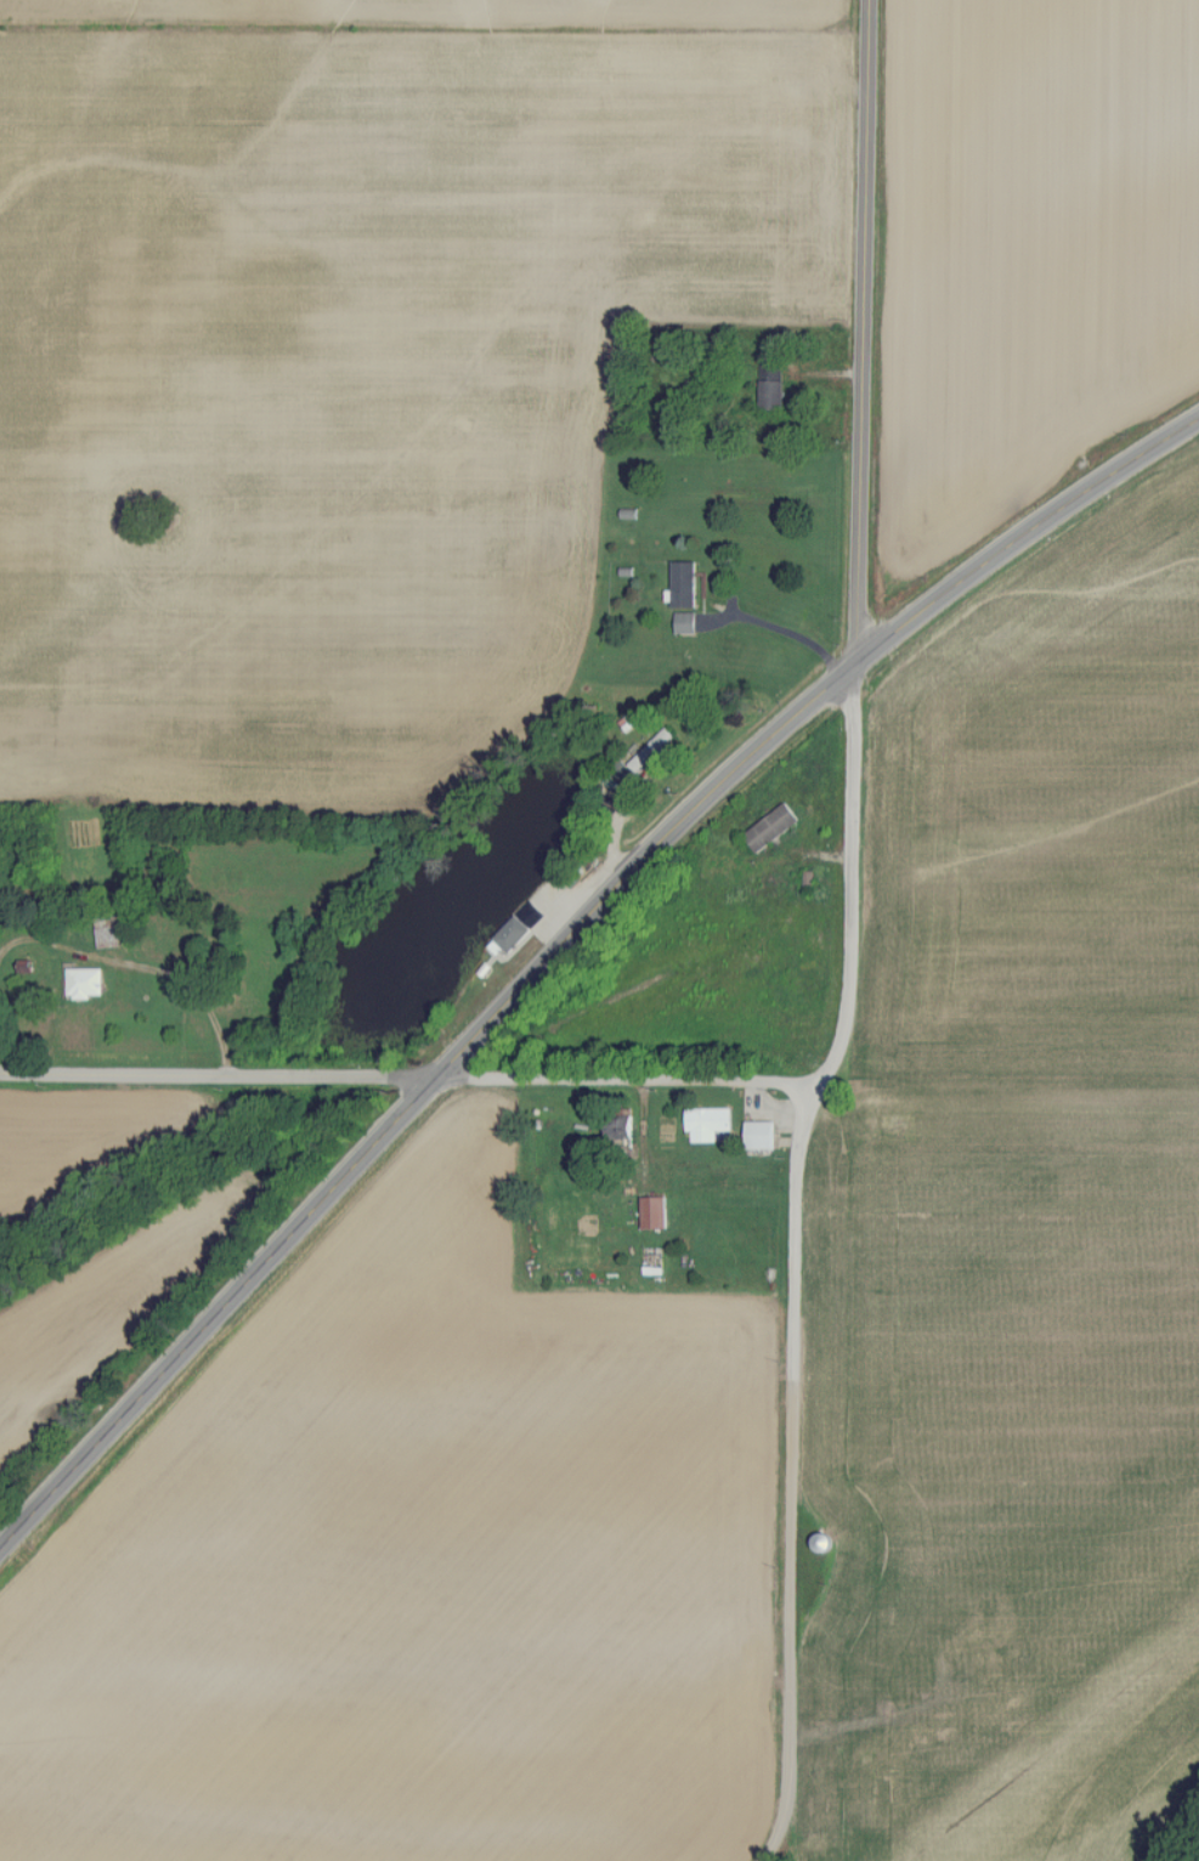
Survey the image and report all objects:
road: (863, 329)
building: (776, 394)
building: (688, 584)
building: (689, 622)
road: (776, 628)
building: (654, 751)
building: (620, 775)
building: (774, 827)
building: (519, 928)
road: (556, 937)
building: (87, 983)
road: (190, 990)
road: (214, 1076)
road: (623, 1076)
building: (711, 1122)
building: (763, 1135)
building: (657, 1212)
road: (794, 1261)

